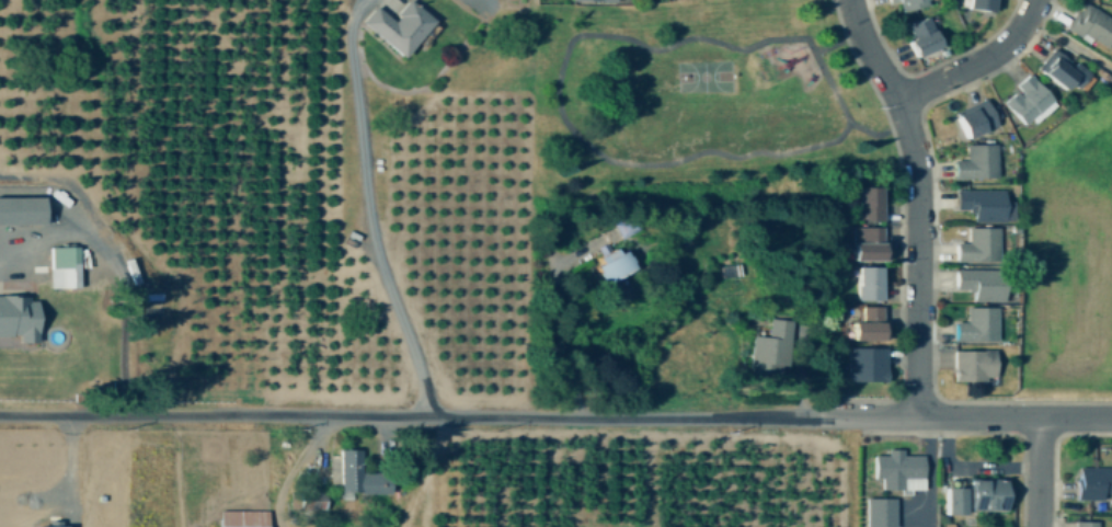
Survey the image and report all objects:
building: (588, 1)
building: (907, 4)
building: (979, 4)
building: (1089, 25)
building: (395, 27)
building: (919, 37)
road: (838, 44)
road: (978, 61)
building: (1061, 71)
park: (703, 78)
road: (558, 99)
building: (1023, 102)
park: (698, 105)
building: (973, 121)
building: (975, 163)
road: (918, 201)
building: (865, 205)
building: (983, 205)
building: (21, 211)
road: (368, 211)
building: (865, 244)
building: (975, 247)
road: (110, 262)
building: (610, 265)
building: (62, 267)
building: (864, 284)
building: (977, 284)
building: (18, 318)
building: (865, 325)
building: (975, 325)
road: (548, 340)
building: (769, 350)
building: (863, 365)
building: (973, 366)
road: (408, 416)
road: (963, 416)
building: (896, 471)
road: (1040, 472)
building: (354, 478)
building: (1092, 483)
building: (986, 496)
building: (308, 502)
building: (952, 502)
building: (879, 513)
building: (242, 519)
building: (54, 525)
building: (1086, 525)

